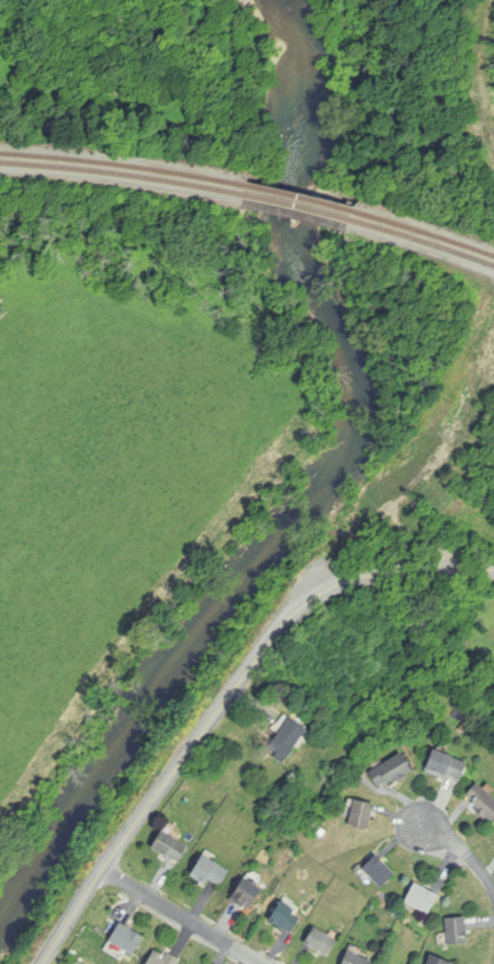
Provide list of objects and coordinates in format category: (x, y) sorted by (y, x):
railway: (121, 165)
railway: (120, 174)
railway: (296, 196)
railway: (295, 205)
railway: (423, 230)
railway: (423, 239)
river: (315, 484)
road: (227, 701)
building: (289, 738)
building: (448, 766)
building: (392, 771)
building: (483, 801)
building: (363, 814)
building: (171, 846)
road: (466, 851)
building: (380, 871)
building: (247, 896)
building: (424, 898)
road: (184, 916)
building: (287, 917)
building: (458, 931)
building: (126, 942)
building: (322, 942)
building: (163, 958)
building: (357, 959)
building: (440, 960)

